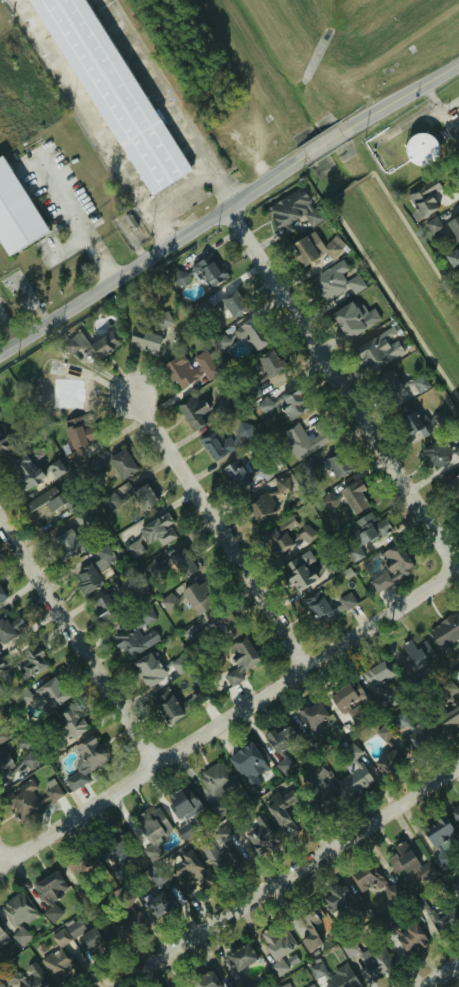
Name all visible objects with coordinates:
building: (115, 91)
road: (405, 94)
road: (163, 103)
road: (95, 122)
road: (322, 144)
building: (419, 149)
road: (178, 191)
building: (423, 197)
building: (292, 211)
building: (15, 213)
road: (82, 217)
building: (444, 228)
building: (301, 251)
building: (453, 258)
road: (147, 261)
building: (209, 271)
building: (335, 281)
building: (231, 304)
building: (353, 319)
building: (251, 335)
building: (145, 341)
building: (91, 344)
building: (376, 351)
building: (270, 362)
building: (205, 365)
building: (179, 371)
building: (388, 382)
building: (418, 383)
building: (70, 392)
road: (340, 392)
building: (291, 403)
building: (263, 406)
building: (193, 410)
building: (439, 418)
building: (414, 423)
building: (78, 435)
building: (302, 440)
building: (214, 445)
building: (4, 446)
building: (438, 454)
building: (122, 464)
building: (337, 464)
building: (306, 466)
building: (55, 468)
building: (26, 474)
building: (235, 475)
building: (452, 489)
building: (355, 496)
building: (142, 497)
building: (52, 500)
building: (112, 502)
building: (261, 510)
building: (81, 520)
road: (219, 523)
building: (369, 527)
building: (158, 529)
building: (307, 533)
building: (277, 541)
building: (67, 544)
building: (133, 548)
building: (354, 554)
building: (182, 563)
building: (392, 566)
building: (95, 570)
building: (298, 574)
building: (1, 594)
building: (199, 597)
building: (168, 602)
building: (319, 608)
building: (105, 610)
building: (146, 615)
building: (225, 624)
building: (10, 629)
building: (445, 633)
building: (190, 634)
building: (134, 641)
road: (78, 643)
building: (417, 654)
building: (241, 658)
building: (27, 664)
building: (2, 665)
building: (171, 665)
building: (149, 670)
building: (384, 684)
building: (49, 691)
building: (22, 697)
building: (348, 702)
building: (166, 705)
building: (313, 715)
building: (400, 720)
building: (449, 720)
road: (229, 723)
building: (66, 724)
building: (385, 732)
building: (422, 735)
building: (2, 736)
building: (281, 737)
building: (29, 761)
building: (85, 761)
building: (388, 762)
building: (249, 765)
building: (284, 765)
building: (8, 768)
building: (354, 773)
building: (216, 785)
building: (316, 791)
building: (27, 799)
building: (182, 803)
building: (282, 813)
building: (455, 813)
building: (152, 828)
building: (186, 829)
building: (221, 833)
building: (256, 834)
building: (437, 837)
building: (116, 846)
building: (231, 853)
building: (214, 857)
building: (400, 858)
road: (2, 862)
building: (79, 865)
building: (197, 870)
building: (157, 875)
building: (366, 876)
road: (291, 879)
building: (455, 885)
building: (50, 892)
building: (335, 897)
building: (158, 904)
building: (17, 907)
building: (359, 910)
building: (438, 918)
building: (124, 926)
building: (74, 927)
building: (0, 929)
building: (310, 931)
building: (410, 938)
building: (96, 940)
building: (277, 942)
building: (349, 948)
building: (239, 957)
building: (375, 960)
building: (60, 965)
building: (277, 968)
building: (335, 976)
road: (442, 976)
building: (26, 977)
building: (205, 979)
building: (1, 985)
building: (284, 985)
building: (176, 986)
building: (311, 986)

